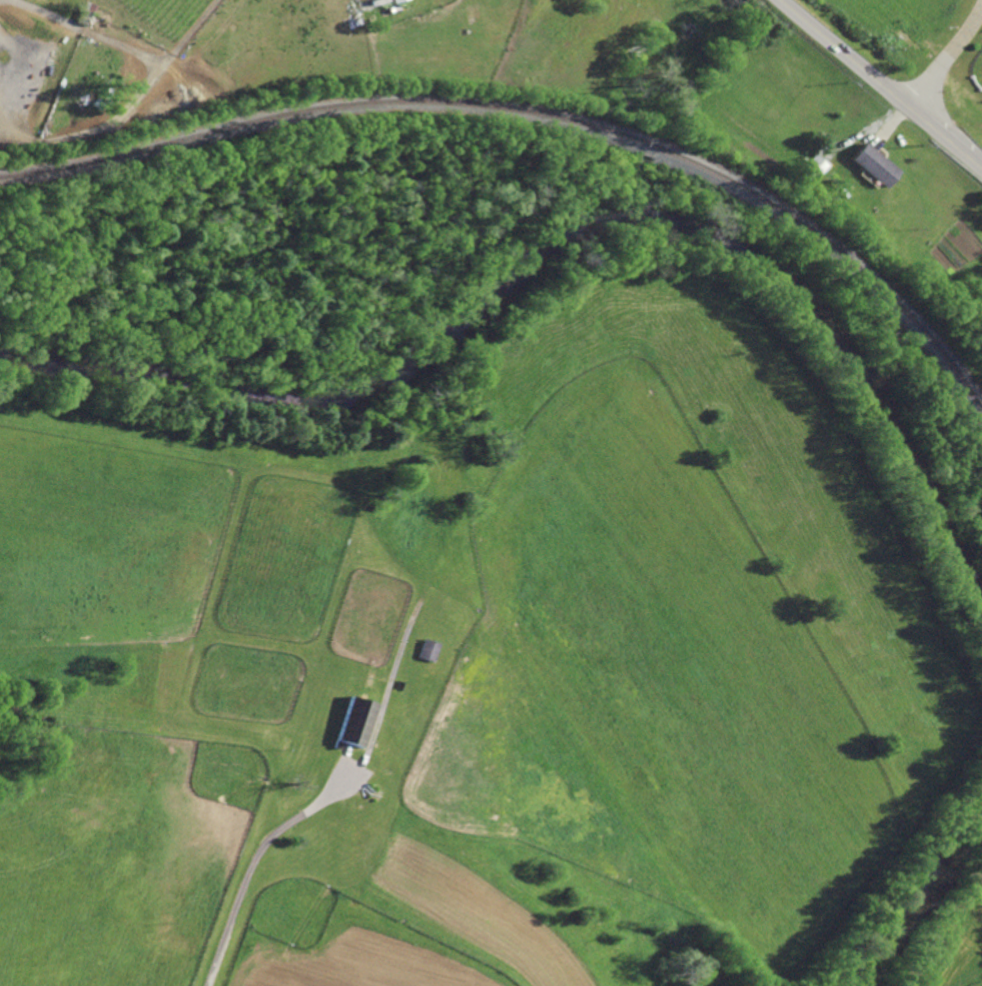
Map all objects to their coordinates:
building: (395, 0)
road: (945, 56)
road: (881, 83)
railway: (540, 113)
building: (875, 164)
building: (814, 168)
building: (831, 182)
building: (430, 649)
building: (357, 721)
road: (253, 861)

